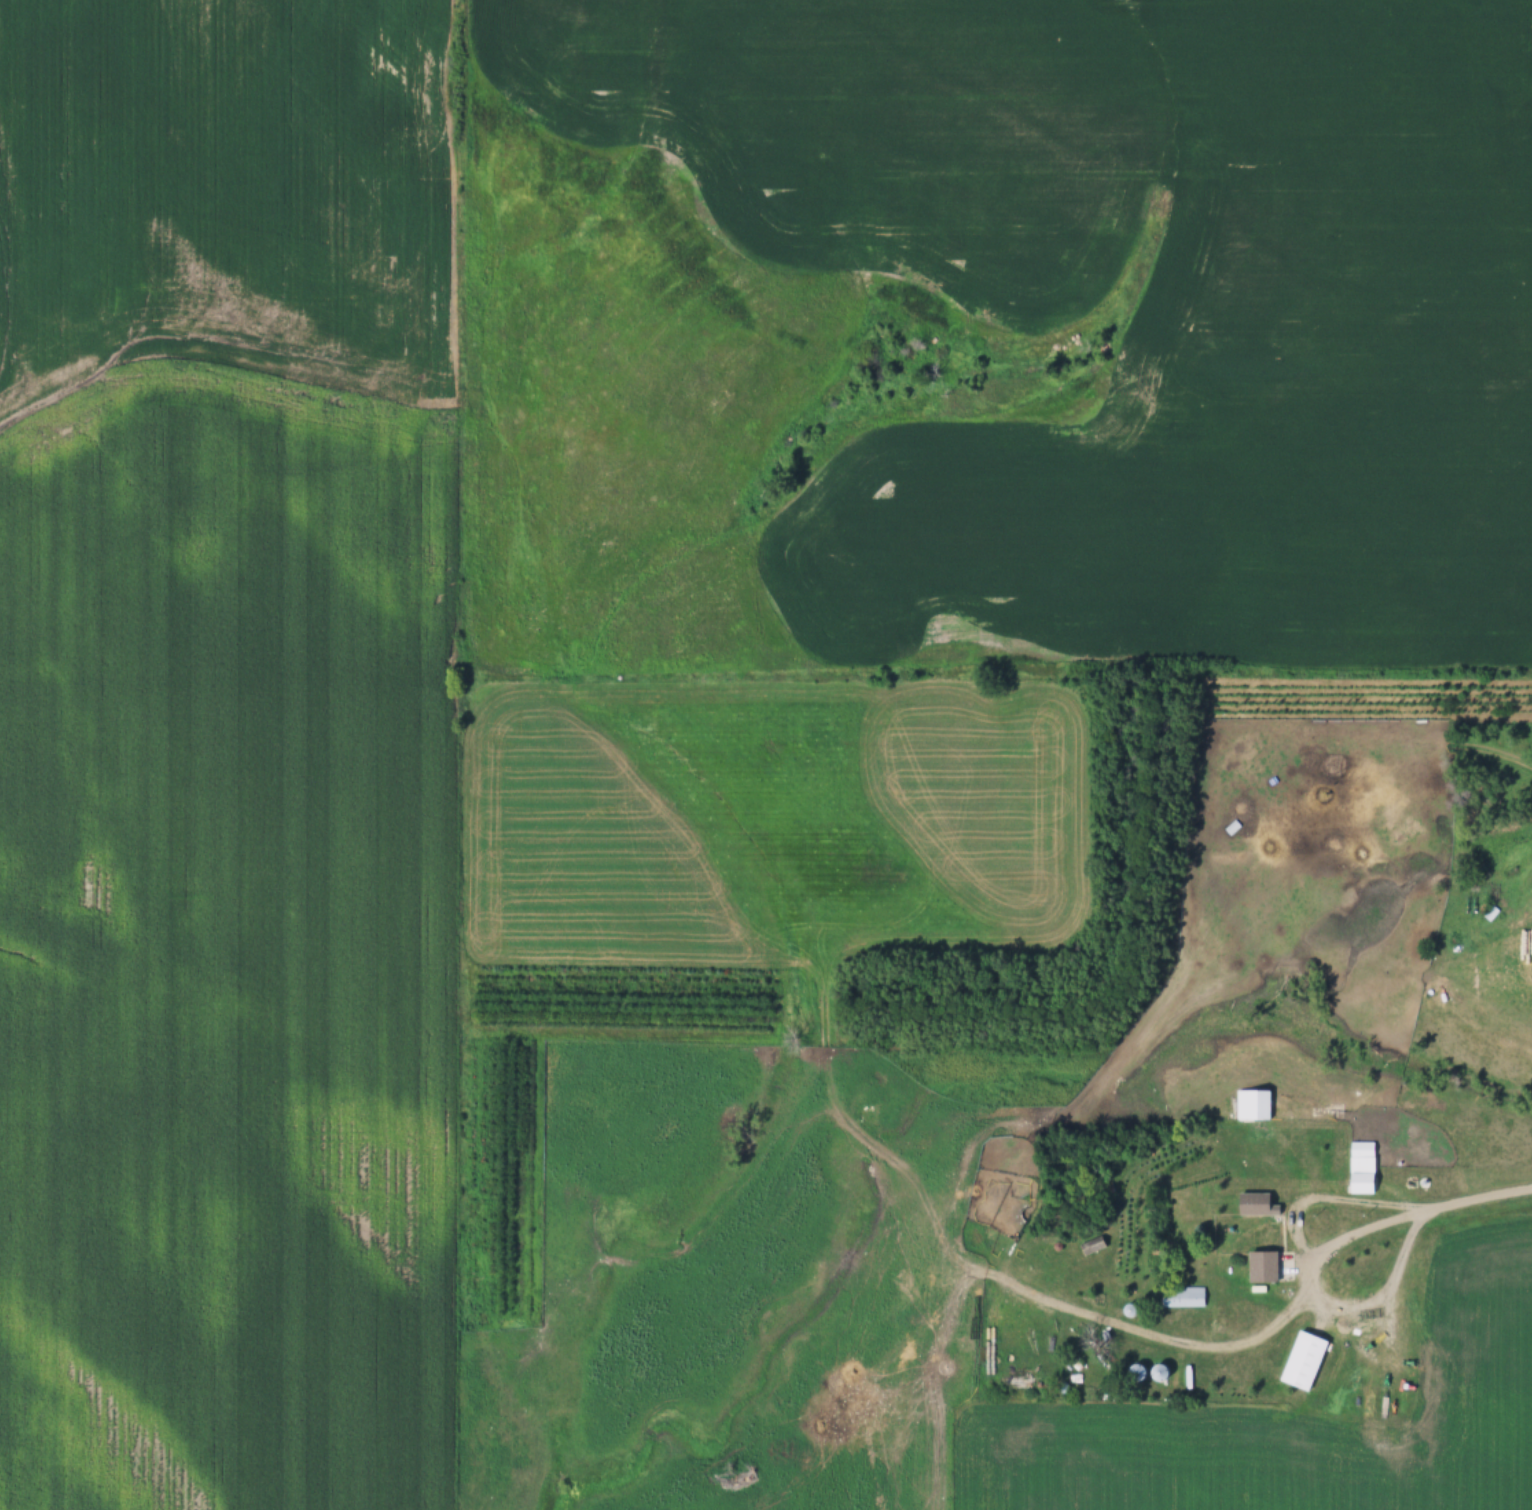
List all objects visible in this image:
building: (1252, 1105)
building: (1361, 1167)
building: (1253, 1203)
building: (1262, 1267)
building: (1182, 1298)
building: (1302, 1361)
building: (1137, 1371)

